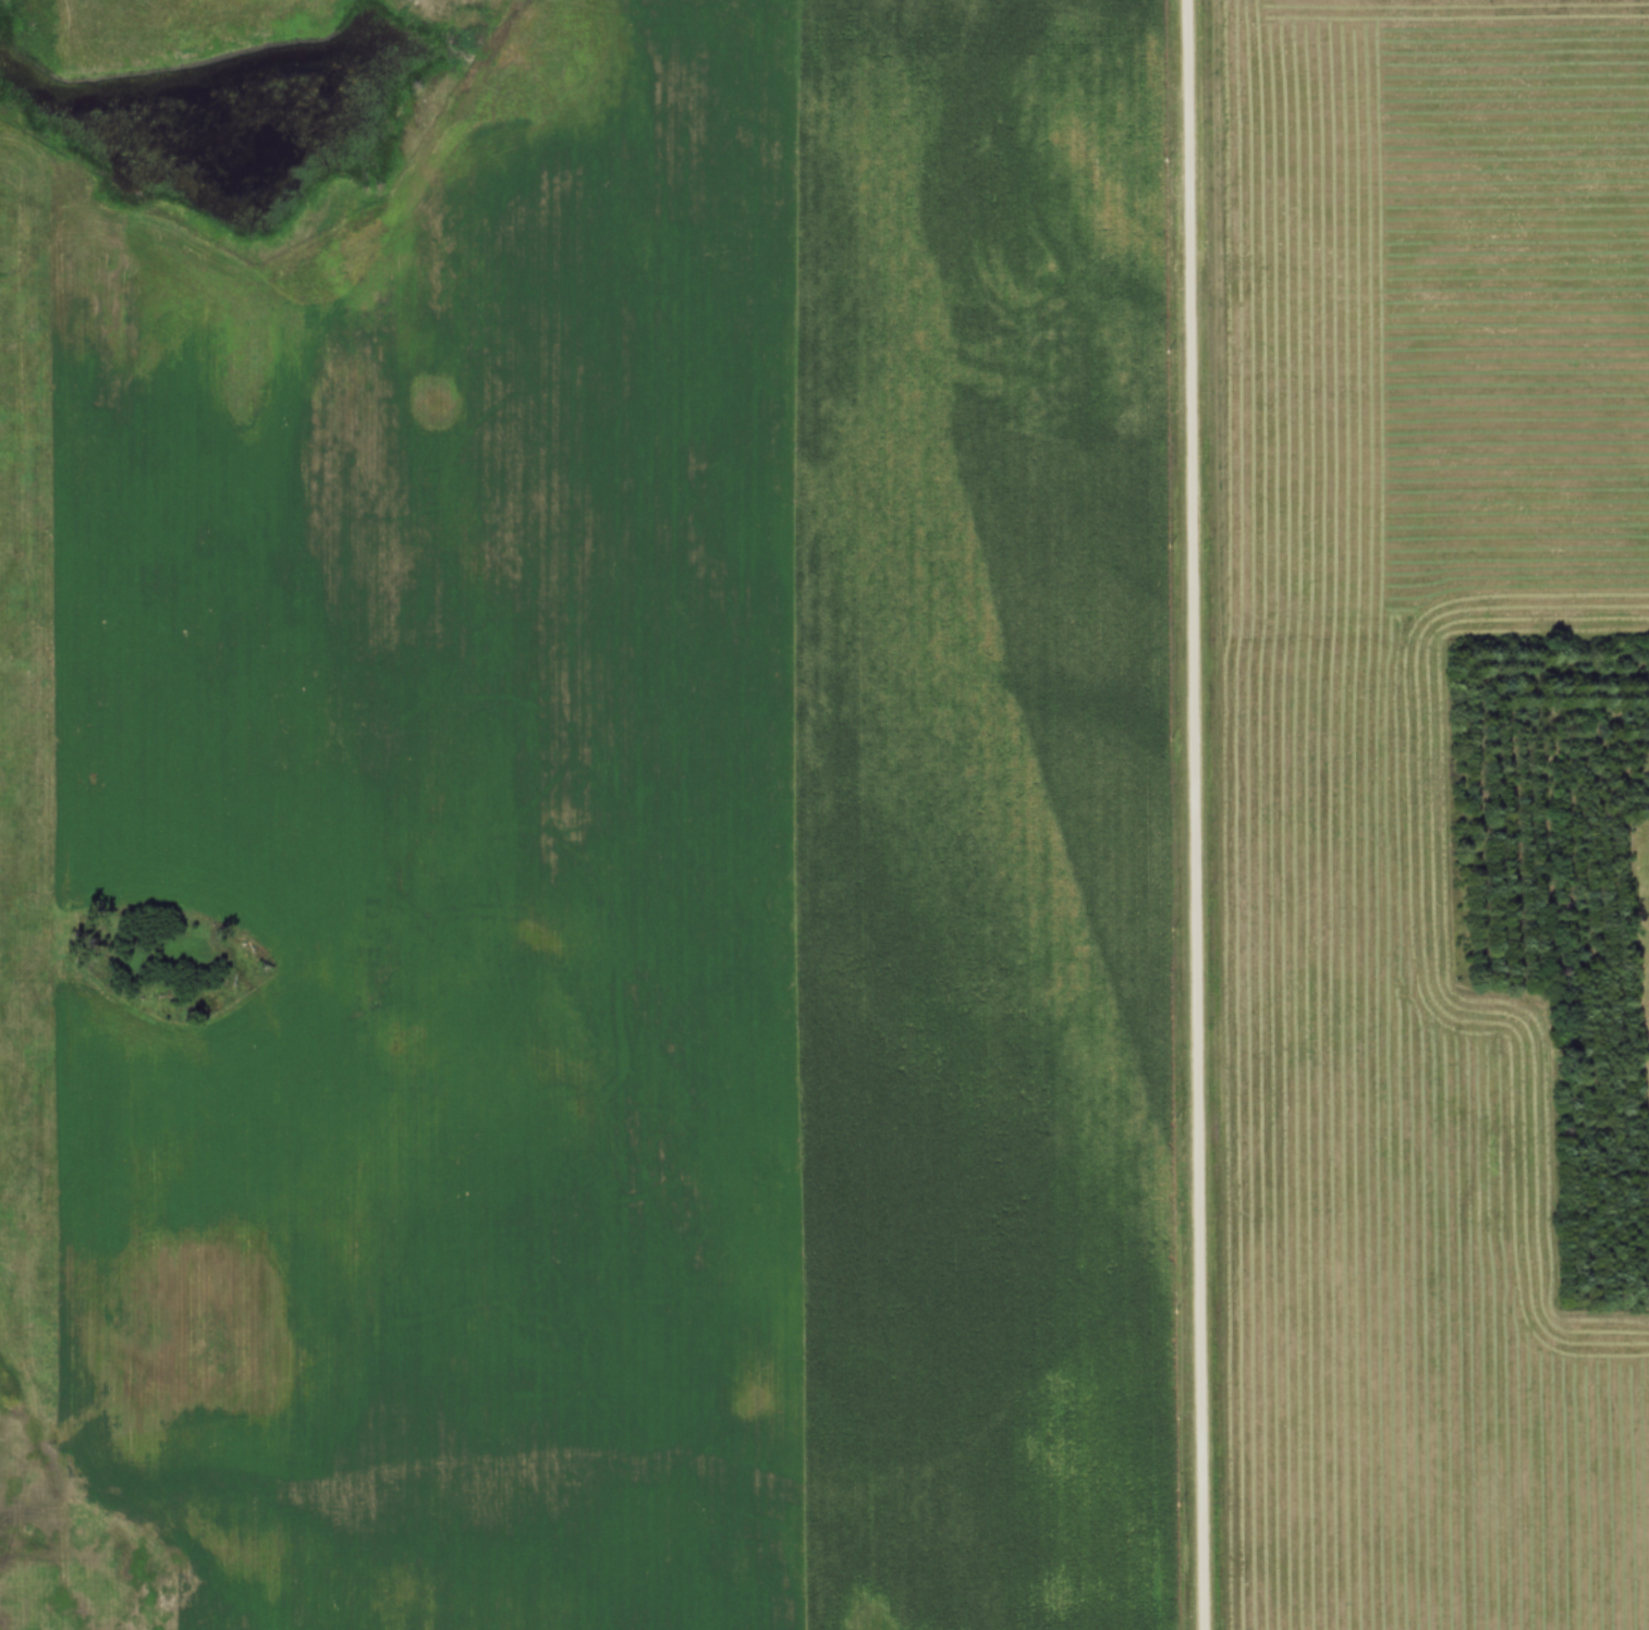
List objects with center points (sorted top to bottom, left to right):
road: (1195, 814)

